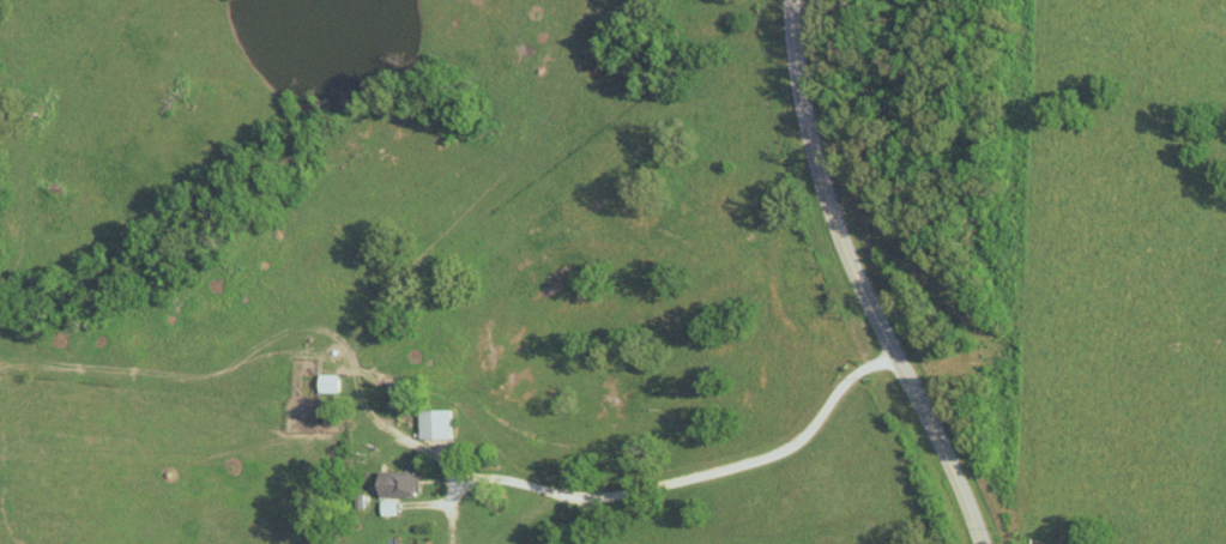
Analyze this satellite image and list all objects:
road: (858, 282)
building: (337, 382)
building: (446, 423)
building: (404, 483)
road: (656, 483)

